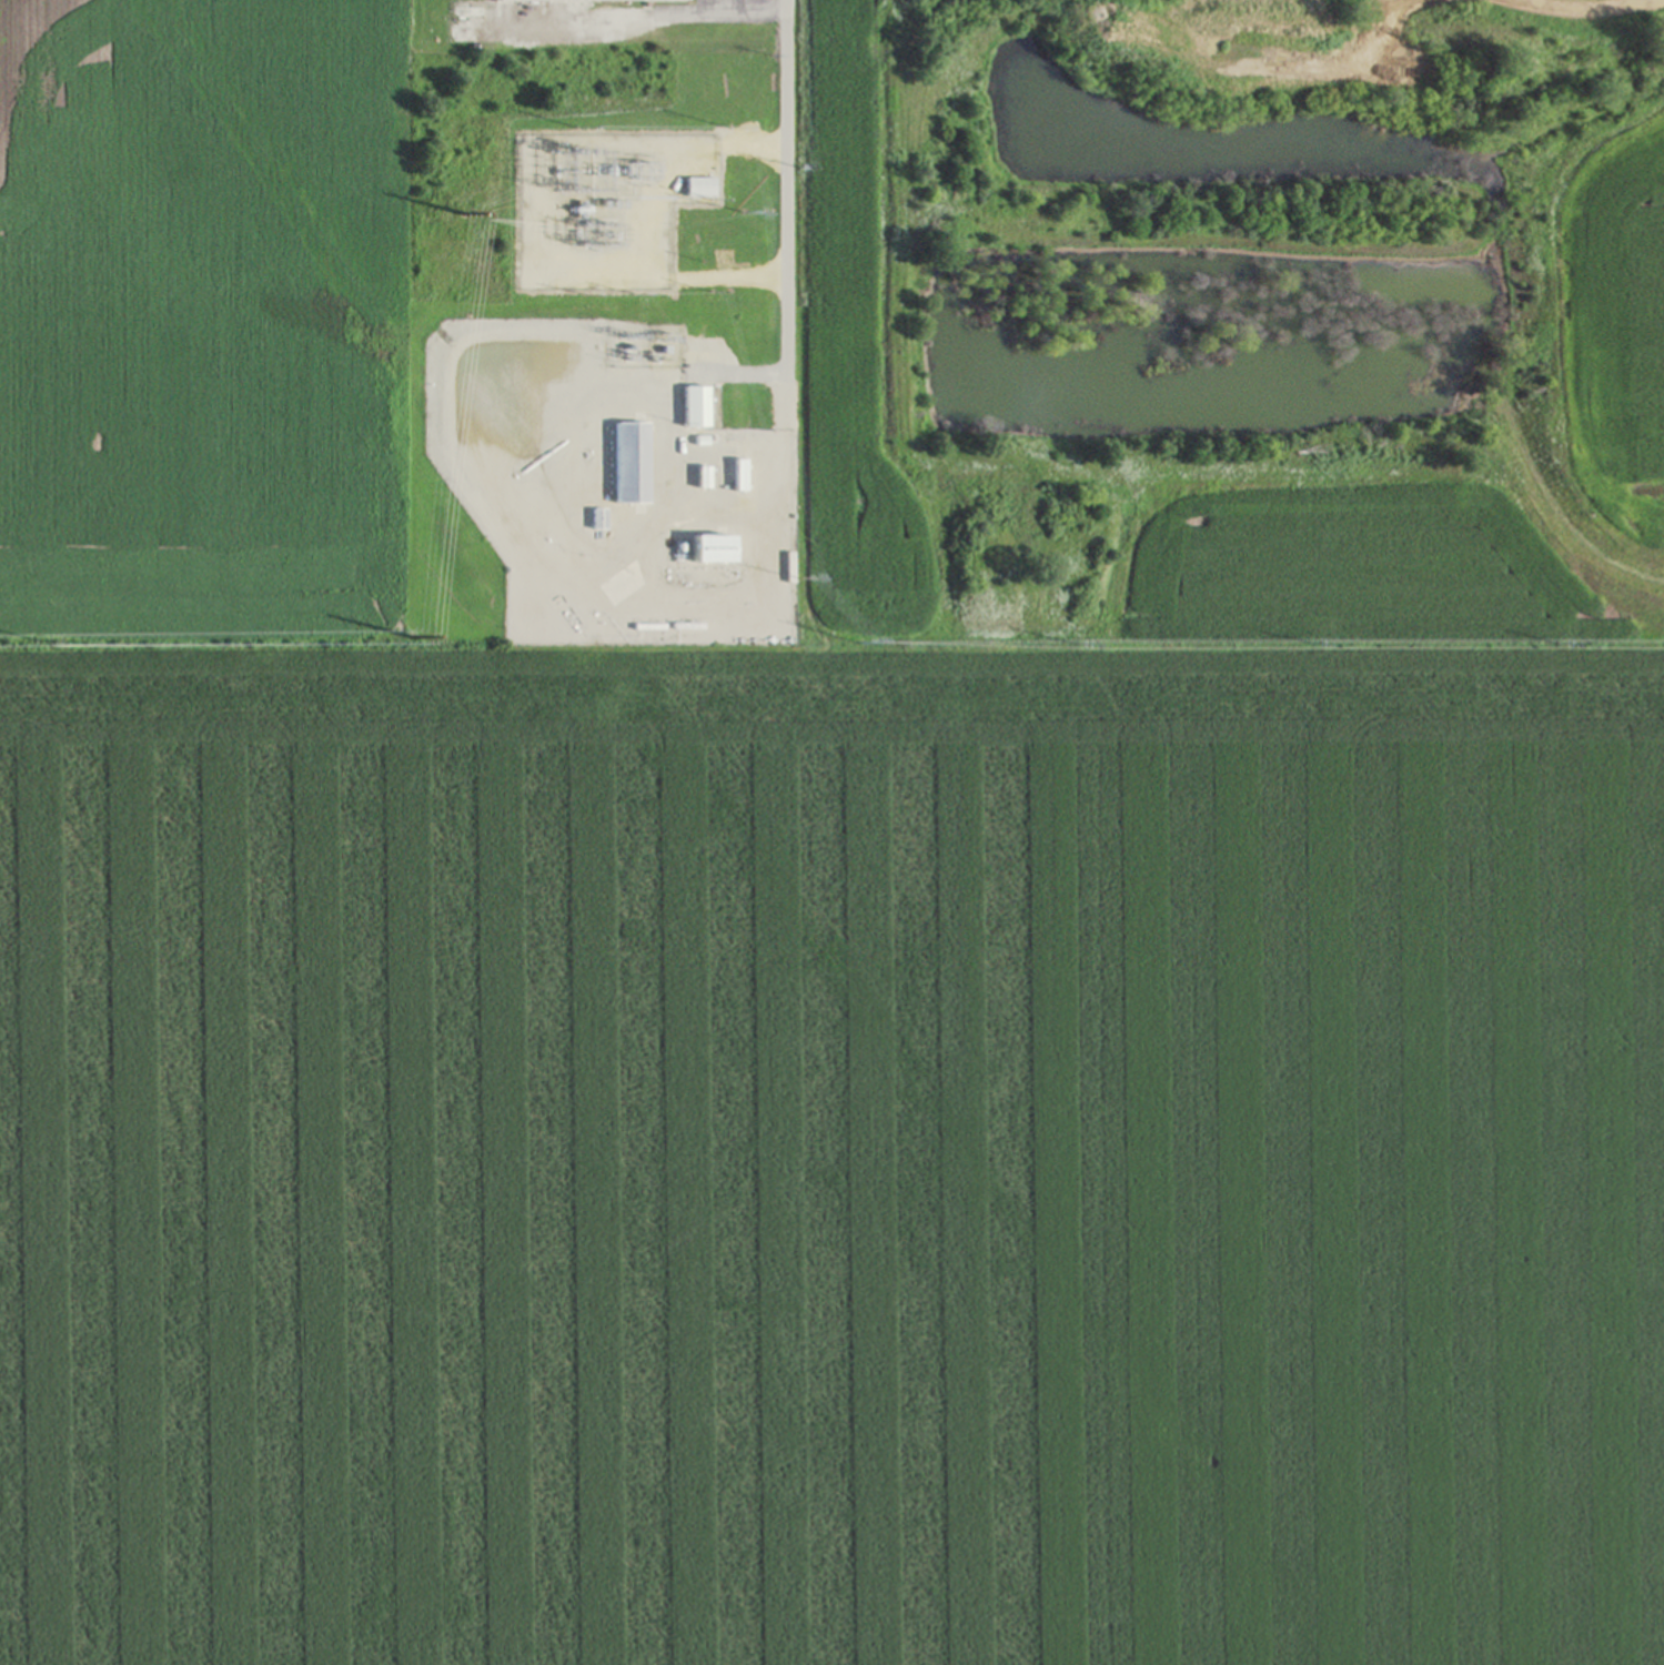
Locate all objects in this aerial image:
power tower: (572, 151)
power tower: (539, 171)
road: (786, 186)
power substation: (595, 210)
power tower: (446, 214)
power tower: (565, 228)
building: (662, 244)
crop: (203, 327)
power substation: (646, 344)
building: (693, 405)
building: (627, 462)
building: (736, 474)
building: (596, 519)
building: (706, 549)
crop: (831, 1160)

